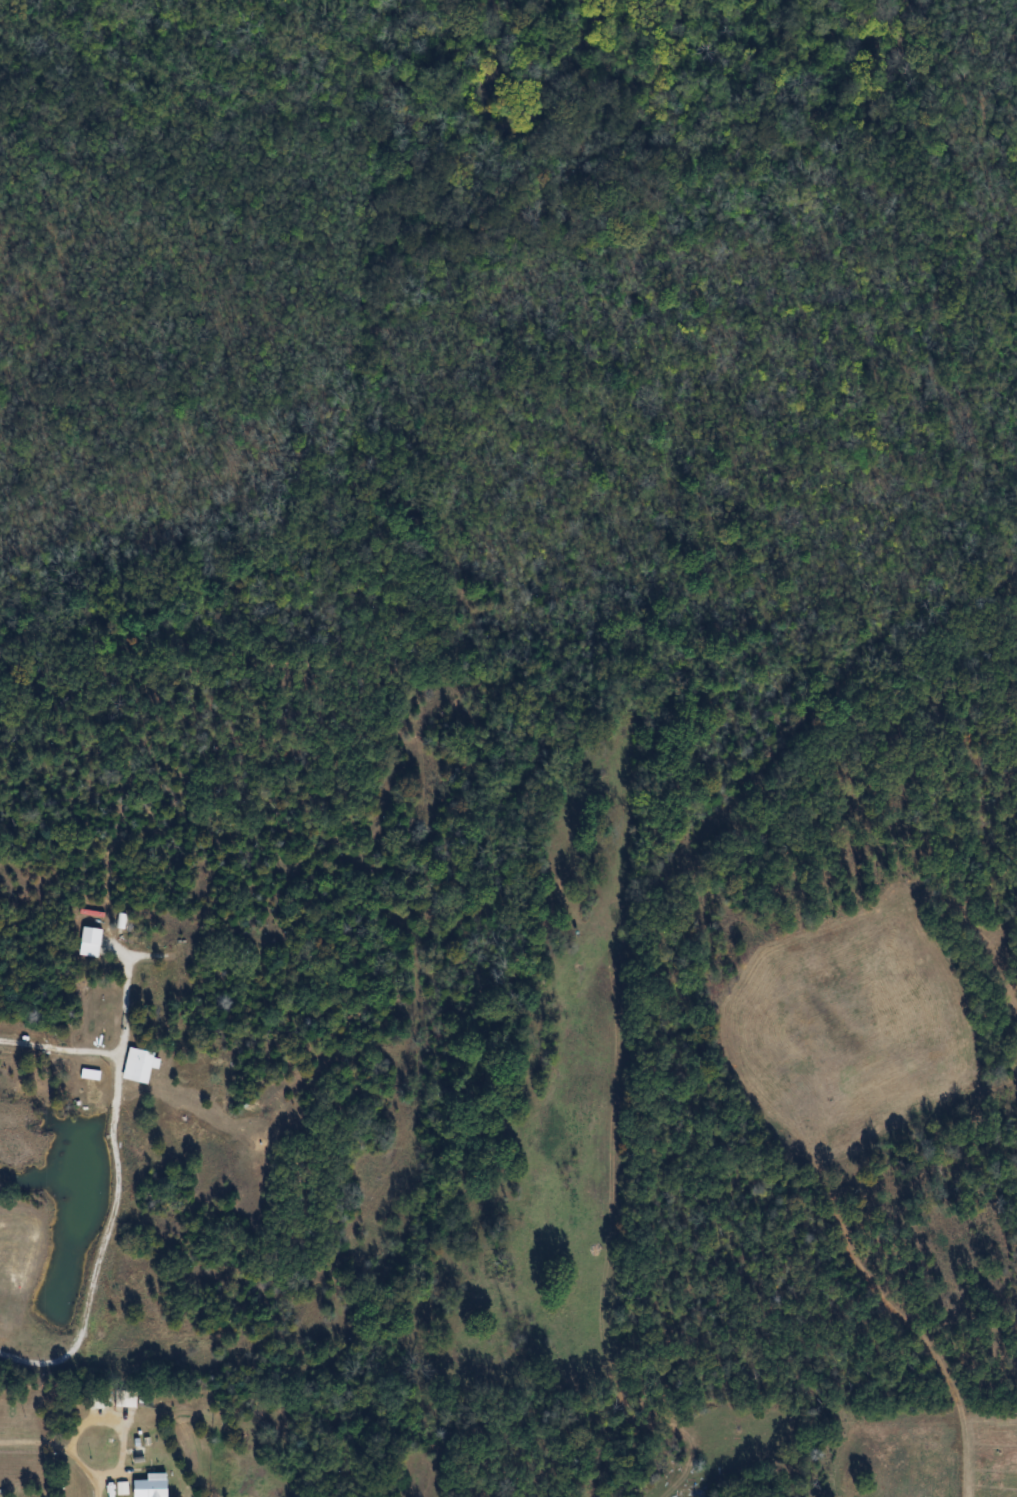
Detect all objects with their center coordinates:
building: (88, 942)
road: (128, 1000)
building: (140, 1067)
road: (117, 1189)
building: (123, 1398)
road: (59, 1450)
building: (149, 1485)

